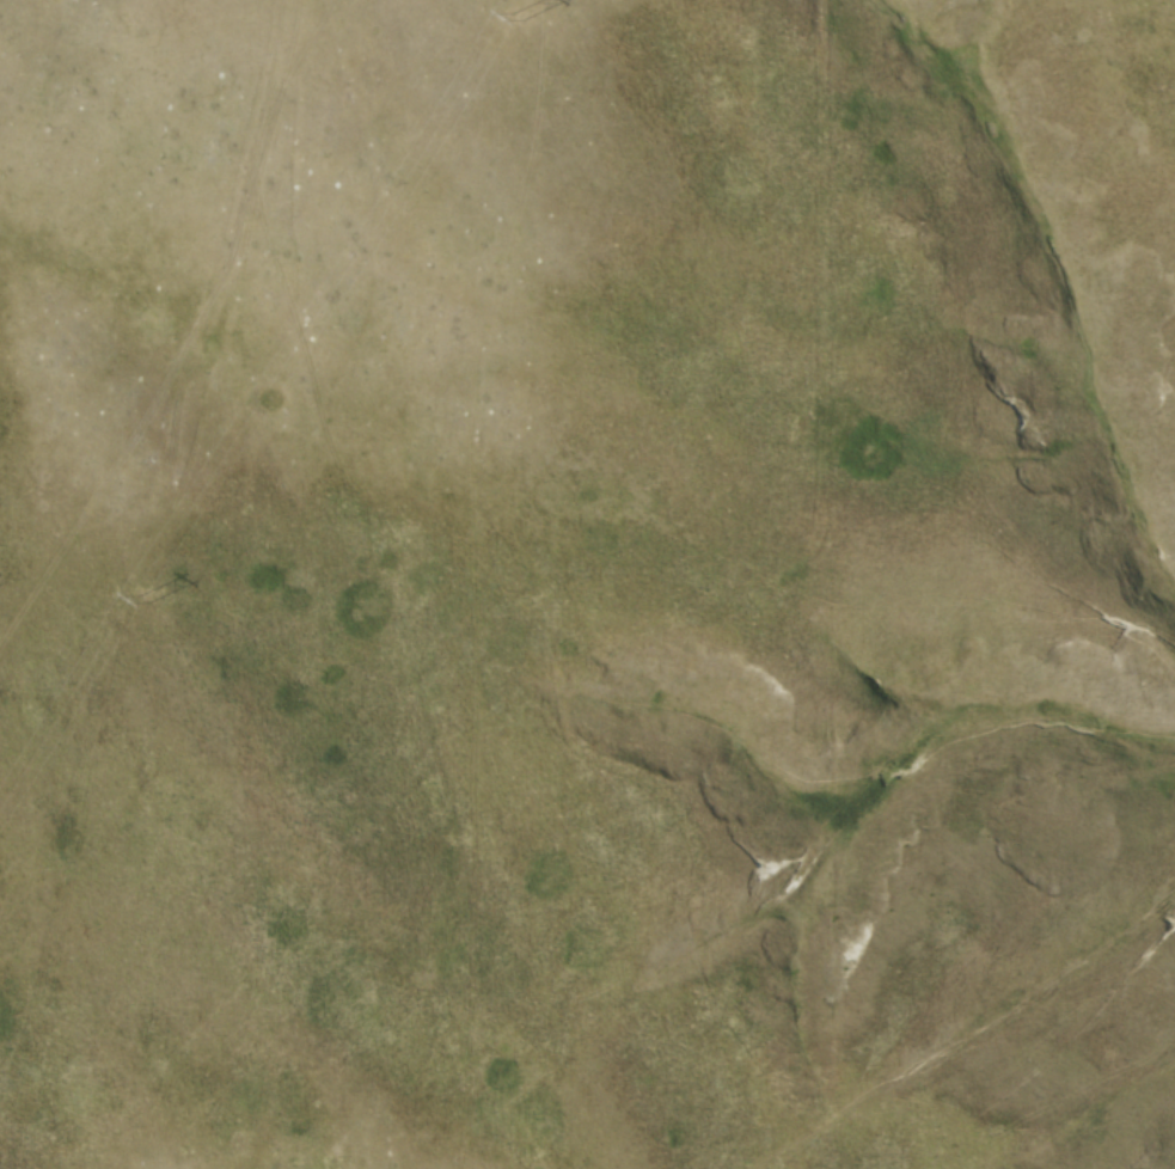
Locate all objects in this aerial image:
power tower: (520, 16)
power tower: (145, 598)

